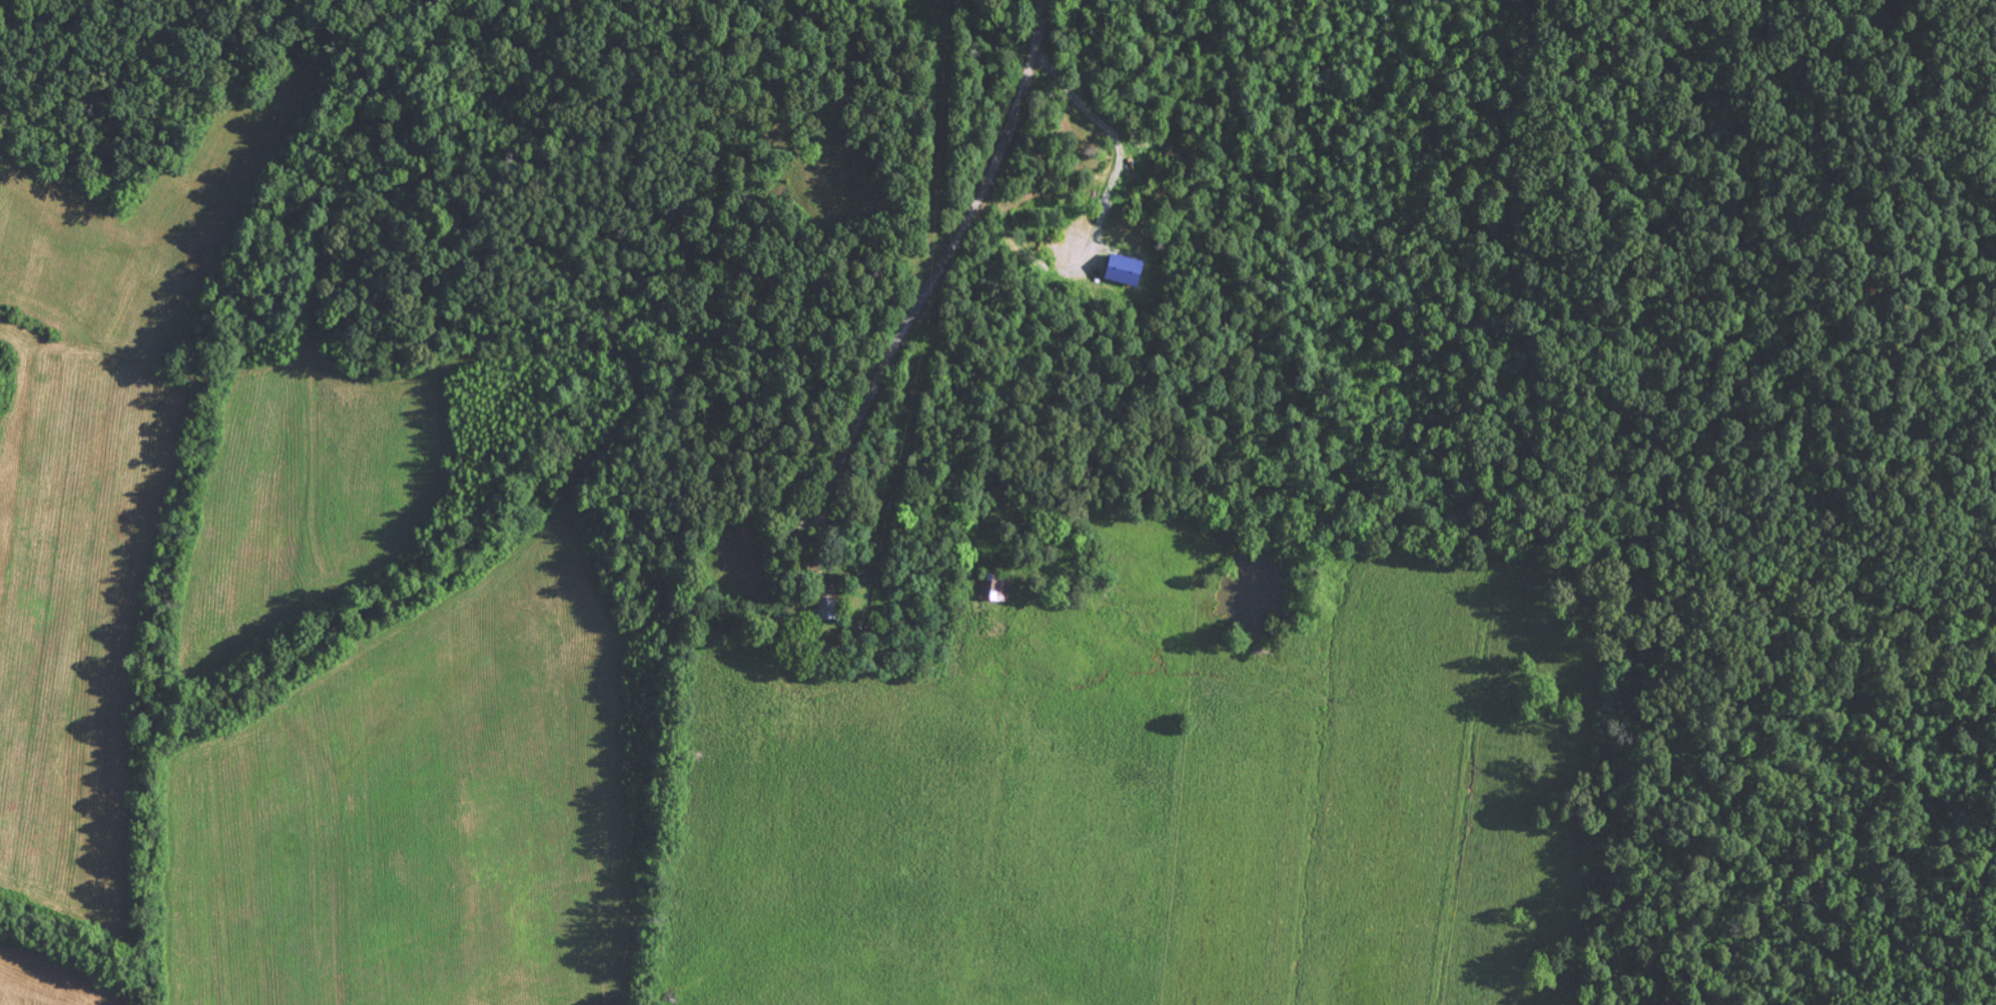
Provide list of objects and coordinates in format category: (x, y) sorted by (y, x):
road: (953, 250)
building: (1118, 269)
road: (816, 497)
building: (998, 586)

